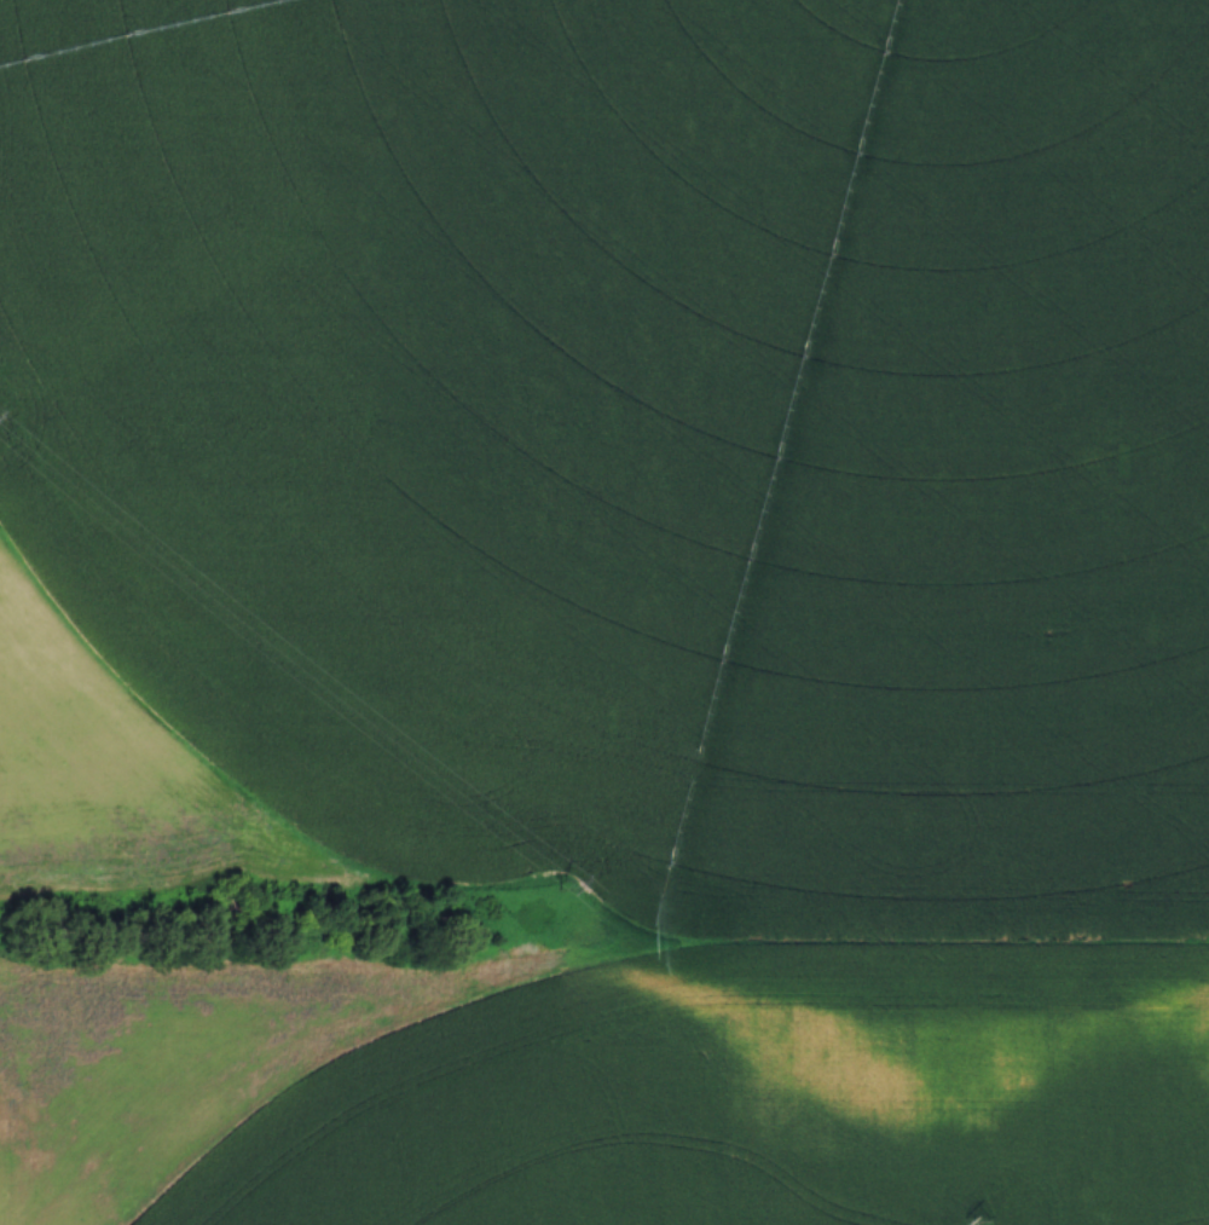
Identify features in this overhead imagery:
power tower: (559, 886)

